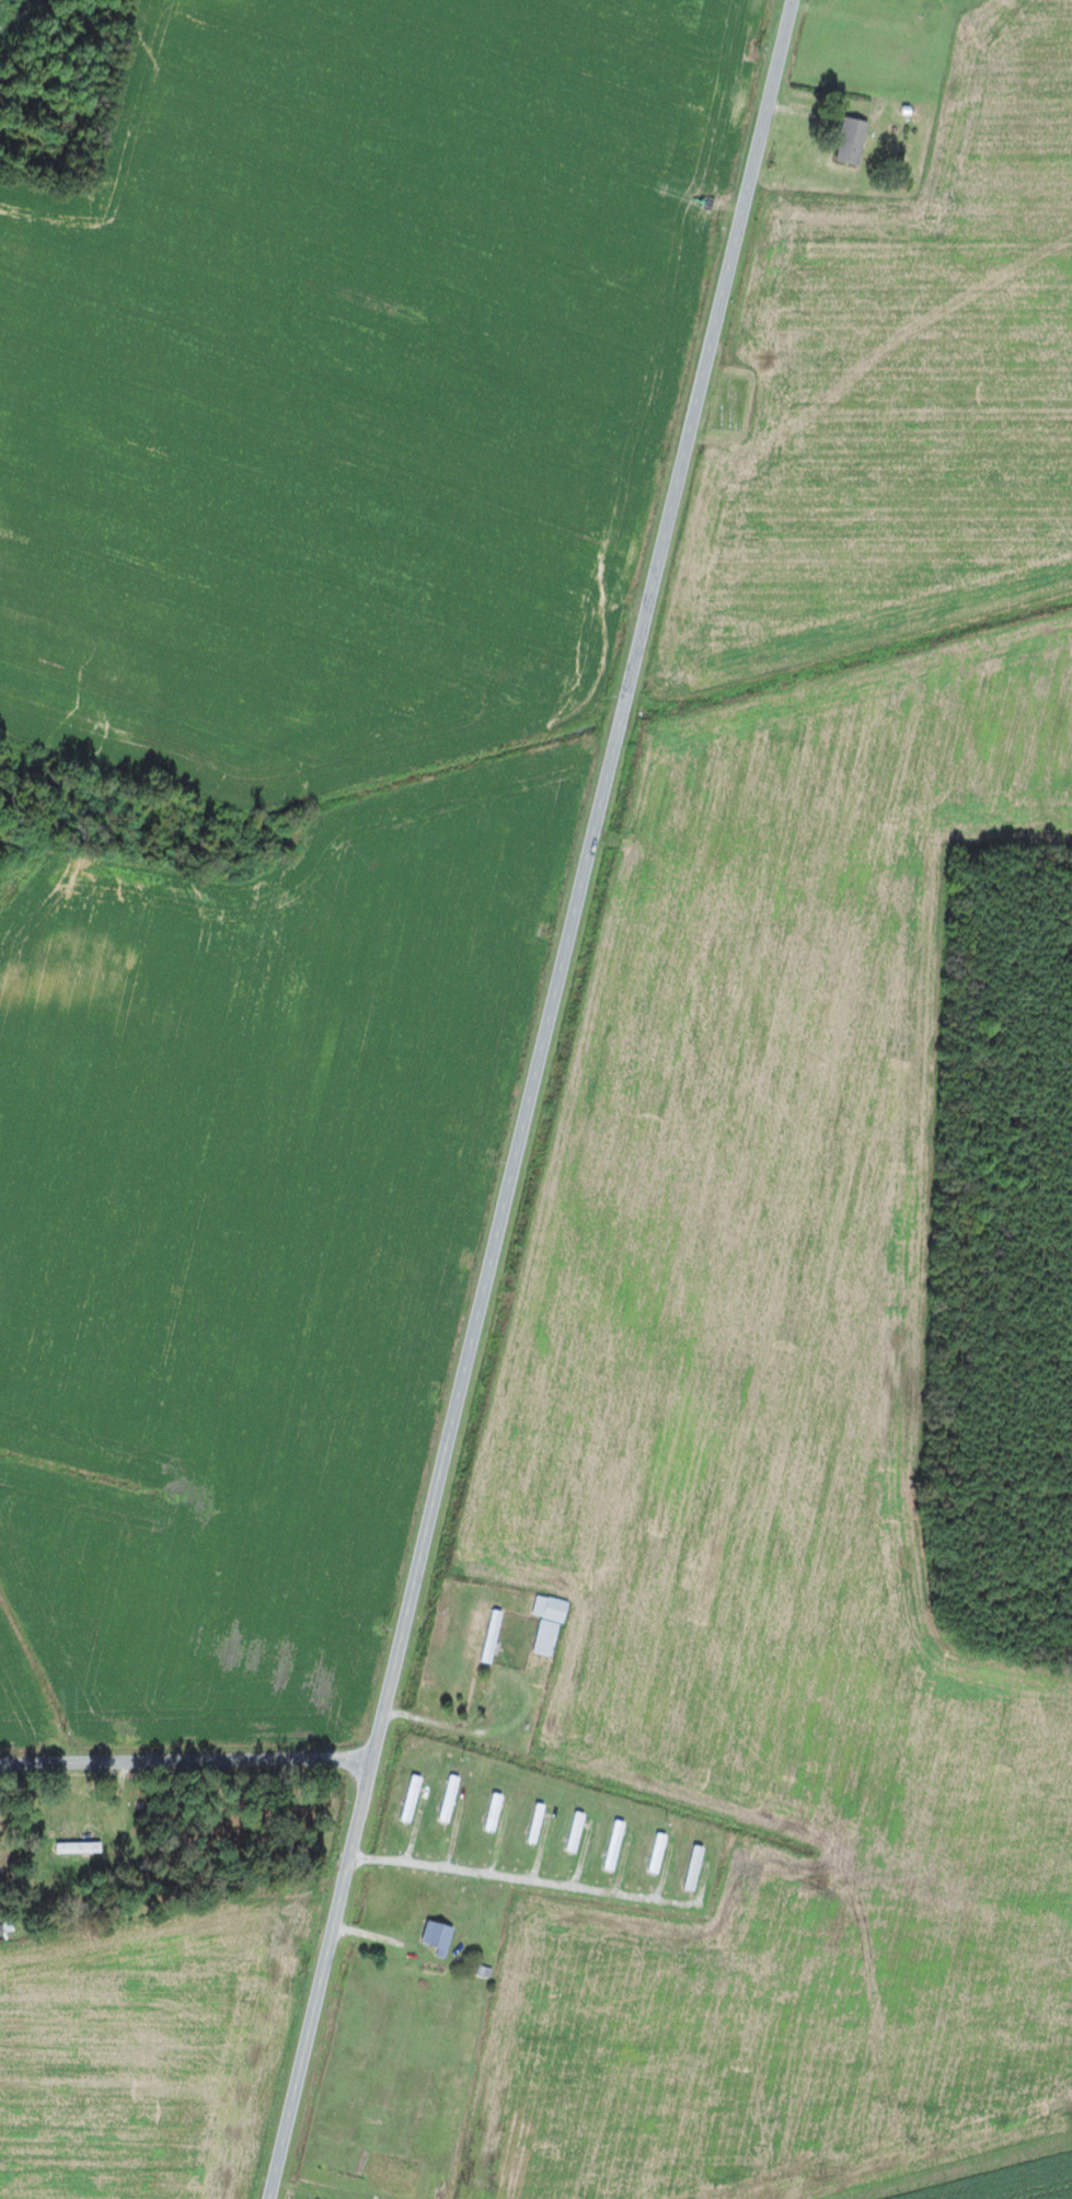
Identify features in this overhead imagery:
building: (854, 140)
road: (530, 1098)
building: (549, 1622)
road: (185, 1762)
building: (449, 1797)
building: (614, 1844)
building: (79, 1847)
building: (657, 1852)
building: (693, 1867)
road: (525, 1880)
building: (439, 1936)

